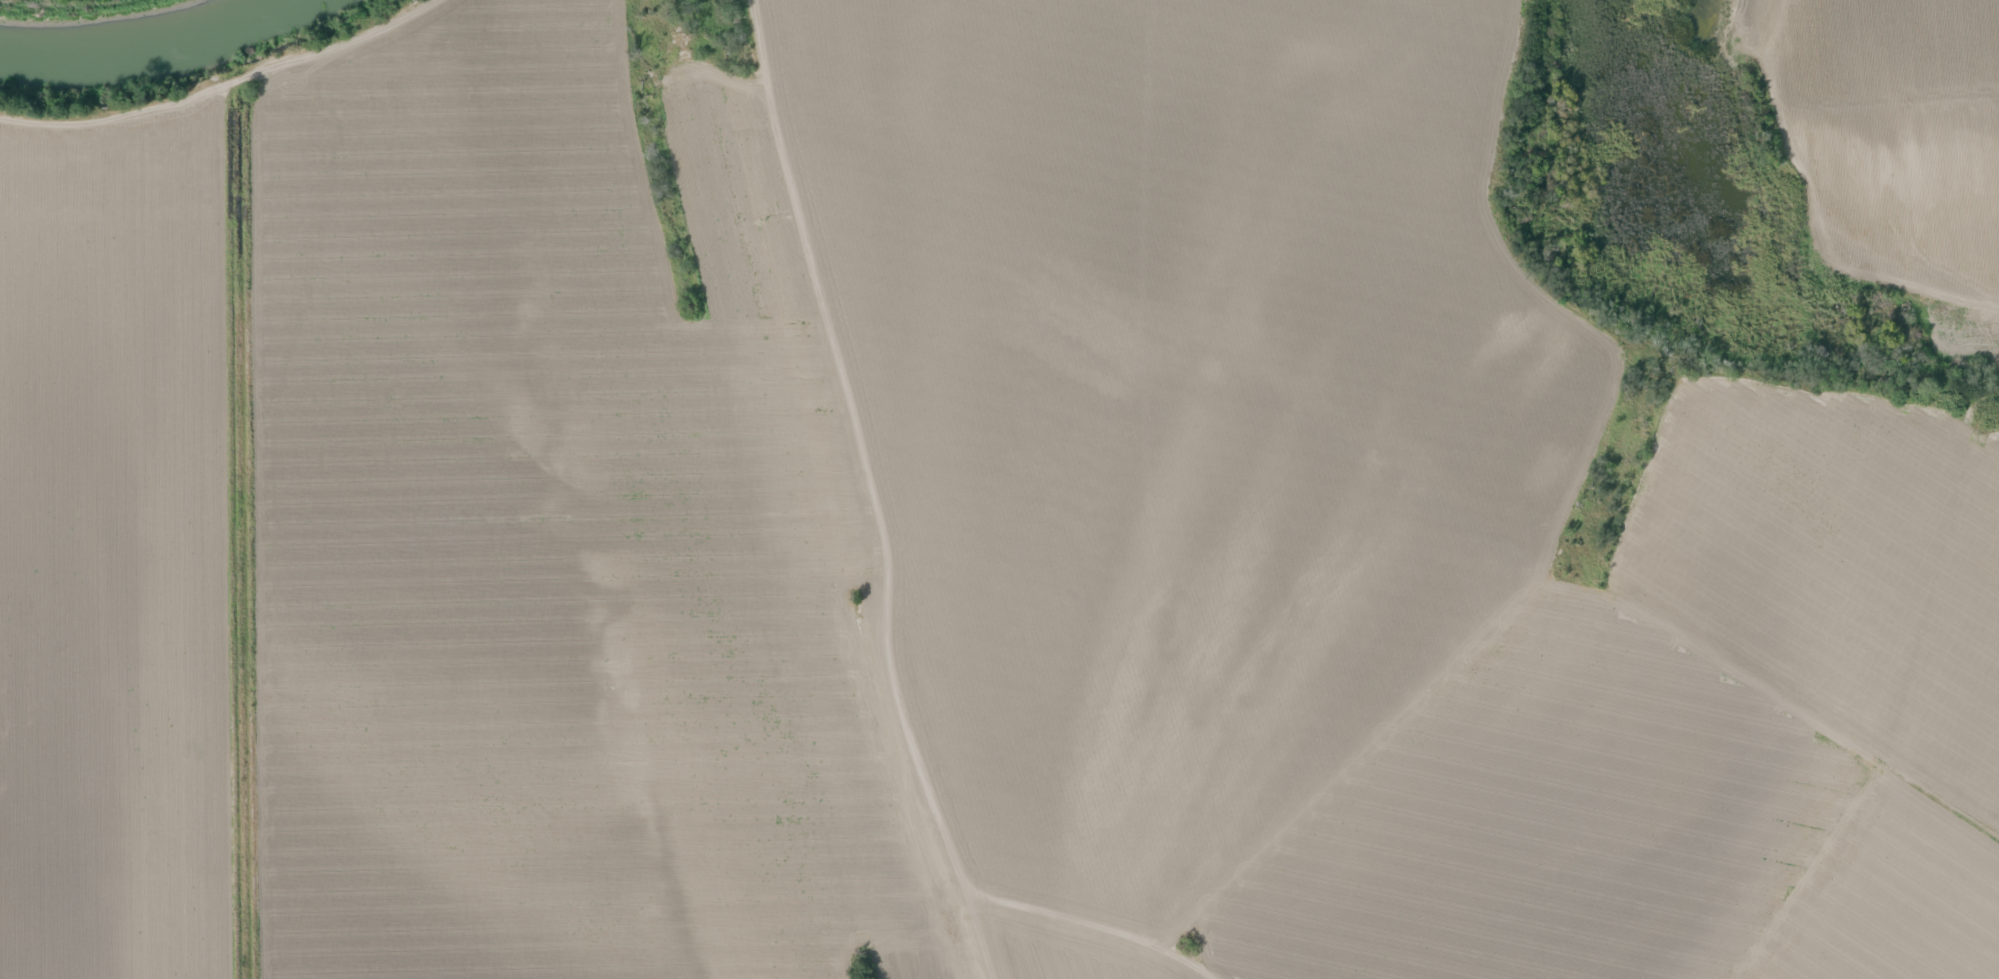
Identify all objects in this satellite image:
river: (142, 46)

